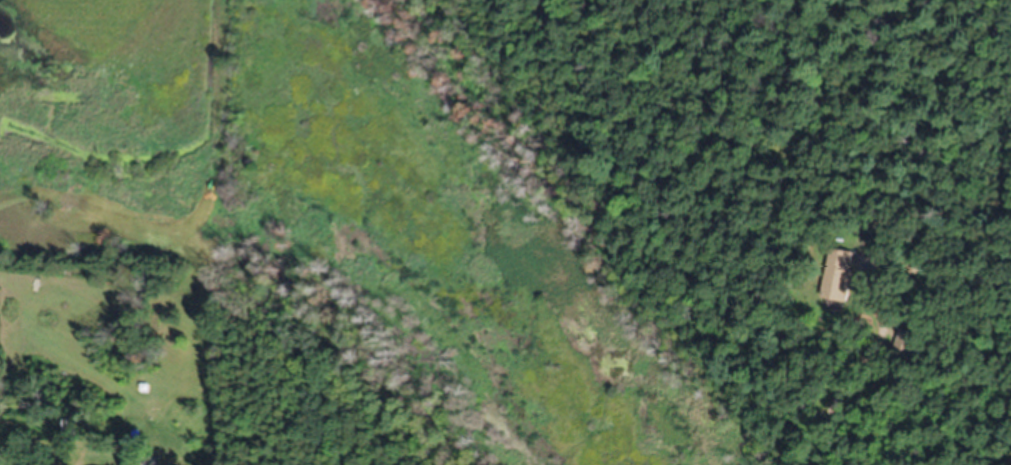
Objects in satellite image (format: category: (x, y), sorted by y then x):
crop: (113, 127)
building: (908, 345)
building: (944, 346)

